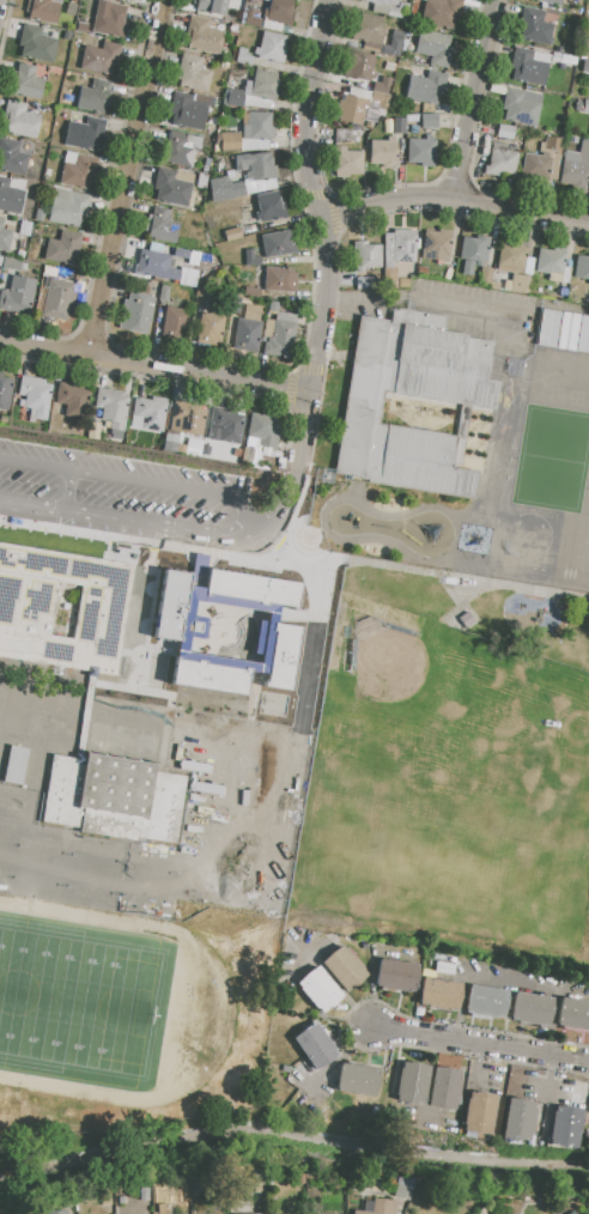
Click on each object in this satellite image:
building: (129, 0)
building: (551, 1)
building: (470, 2)
building: (381, 5)
building: (211, 6)
building: (43, 10)
building: (397, 10)
building: (441, 13)
building: (277, 14)
building: (250, 18)
building: (110, 19)
building: (535, 26)
building: (369, 28)
building: (204, 35)
building: (36, 44)
building: (393, 44)
building: (271, 47)
building: (435, 47)
building: (244, 57)
building: (99, 59)
building: (362, 66)
building: (389, 66)
building: (529, 66)
building: (585, 66)
building: (193, 73)
building: (25, 83)
building: (382, 85)
building: (425, 85)
building: (260, 90)
building: (95, 97)
building: (235, 98)
building: (381, 99)
road: (469, 99)
building: (585, 107)
building: (520, 108)
building: (189, 109)
road: (303, 109)
building: (352, 109)
building: (18, 121)
building: (429, 121)
building: (399, 126)
building: (256, 130)
building: (505, 132)
building: (86, 134)
building: (342, 135)
building: (354, 135)
building: (229, 140)
building: (180, 148)
building: (421, 151)
building: (383, 152)
building: (12, 158)
building: (500, 160)
building: (545, 160)
building: (347, 162)
building: (256, 165)
building: (577, 168)
building: (78, 170)
road: (121, 177)
building: (171, 188)
building: (236, 189)
building: (10, 198)
road: (454, 199)
building: (68, 207)
building: (269, 207)
building: (38, 214)
building: (221, 217)
building: (162, 226)
building: (231, 233)
building: (5, 235)
building: (278, 244)
building: (436, 244)
building: (400, 245)
building: (63, 248)
building: (474, 249)
building: (365, 255)
building: (515, 257)
building: (250, 259)
building: (12, 263)
building: (157, 263)
building: (553, 263)
building: (467, 267)
building: (581, 267)
building: (485, 275)
building: (279, 279)
building: (588, 281)
building: (364, 283)
building: (520, 283)
building: (251, 292)
building: (17, 296)
road: (420, 298)
building: (202, 299)
building: (59, 301)
road: (322, 304)
building: (273, 306)
building: (135, 314)
building: (175, 323)
building: (547, 327)
building: (210, 328)
building: (567, 332)
building: (245, 334)
building: (583, 335)
building: (280, 339)
road: (153, 365)
building: (0, 372)
building: (5, 391)
building: (34, 396)
building: (67, 406)
building: (110, 407)
building: (414, 412)
building: (148, 413)
building: (186, 418)
building: (224, 425)
road: (304, 426)
building: (263, 430)
building: (206, 450)
building: (247, 455)
road: (141, 474)
road: (19, 479)
road: (115, 493)
parking lot: (148, 494)
road: (284, 508)
road: (125, 518)
building: (280, 630)
building: (207, 673)
building: (84, 691)
park: (427, 710)
building: (113, 714)
park: (457, 769)
building: (344, 967)
building: (396, 975)
building: (320, 989)
building: (441, 994)
building: (486, 1001)
park: (81, 1002)
building: (530, 1008)
building: (573, 1013)
road: (480, 1044)
building: (315, 1045)
building: (356, 1080)
building: (412, 1084)
building: (444, 1088)
building: (479, 1113)
building: (587, 1117)
building: (517, 1121)
building: (565, 1127)
road: (293, 1130)
building: (402, 1191)
building: (144, 1194)
building: (105, 1203)
building: (379, 1207)
building: (160, 1209)
building: (55, 1212)
building: (22, 1213)
building: (254, 1213)
building: (571, 1213)

